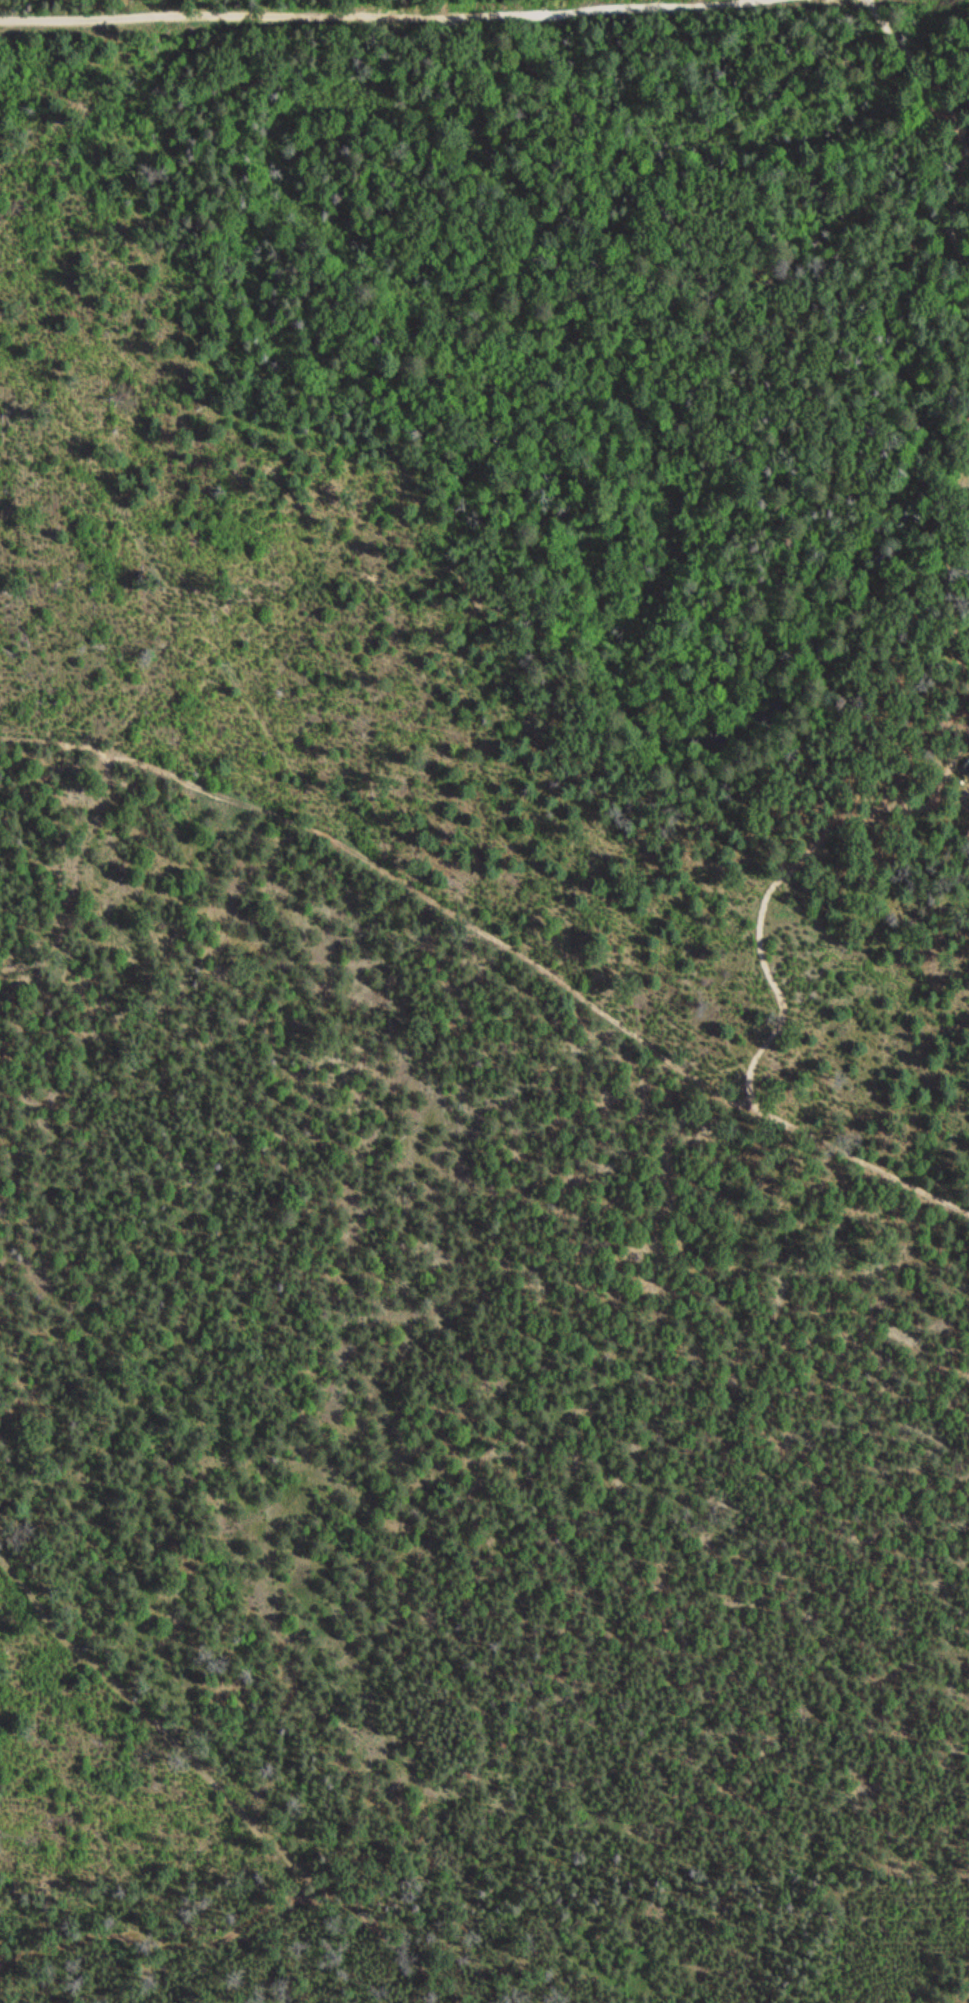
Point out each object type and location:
road: (62, 18)
building: (966, 767)
road: (492, 947)

